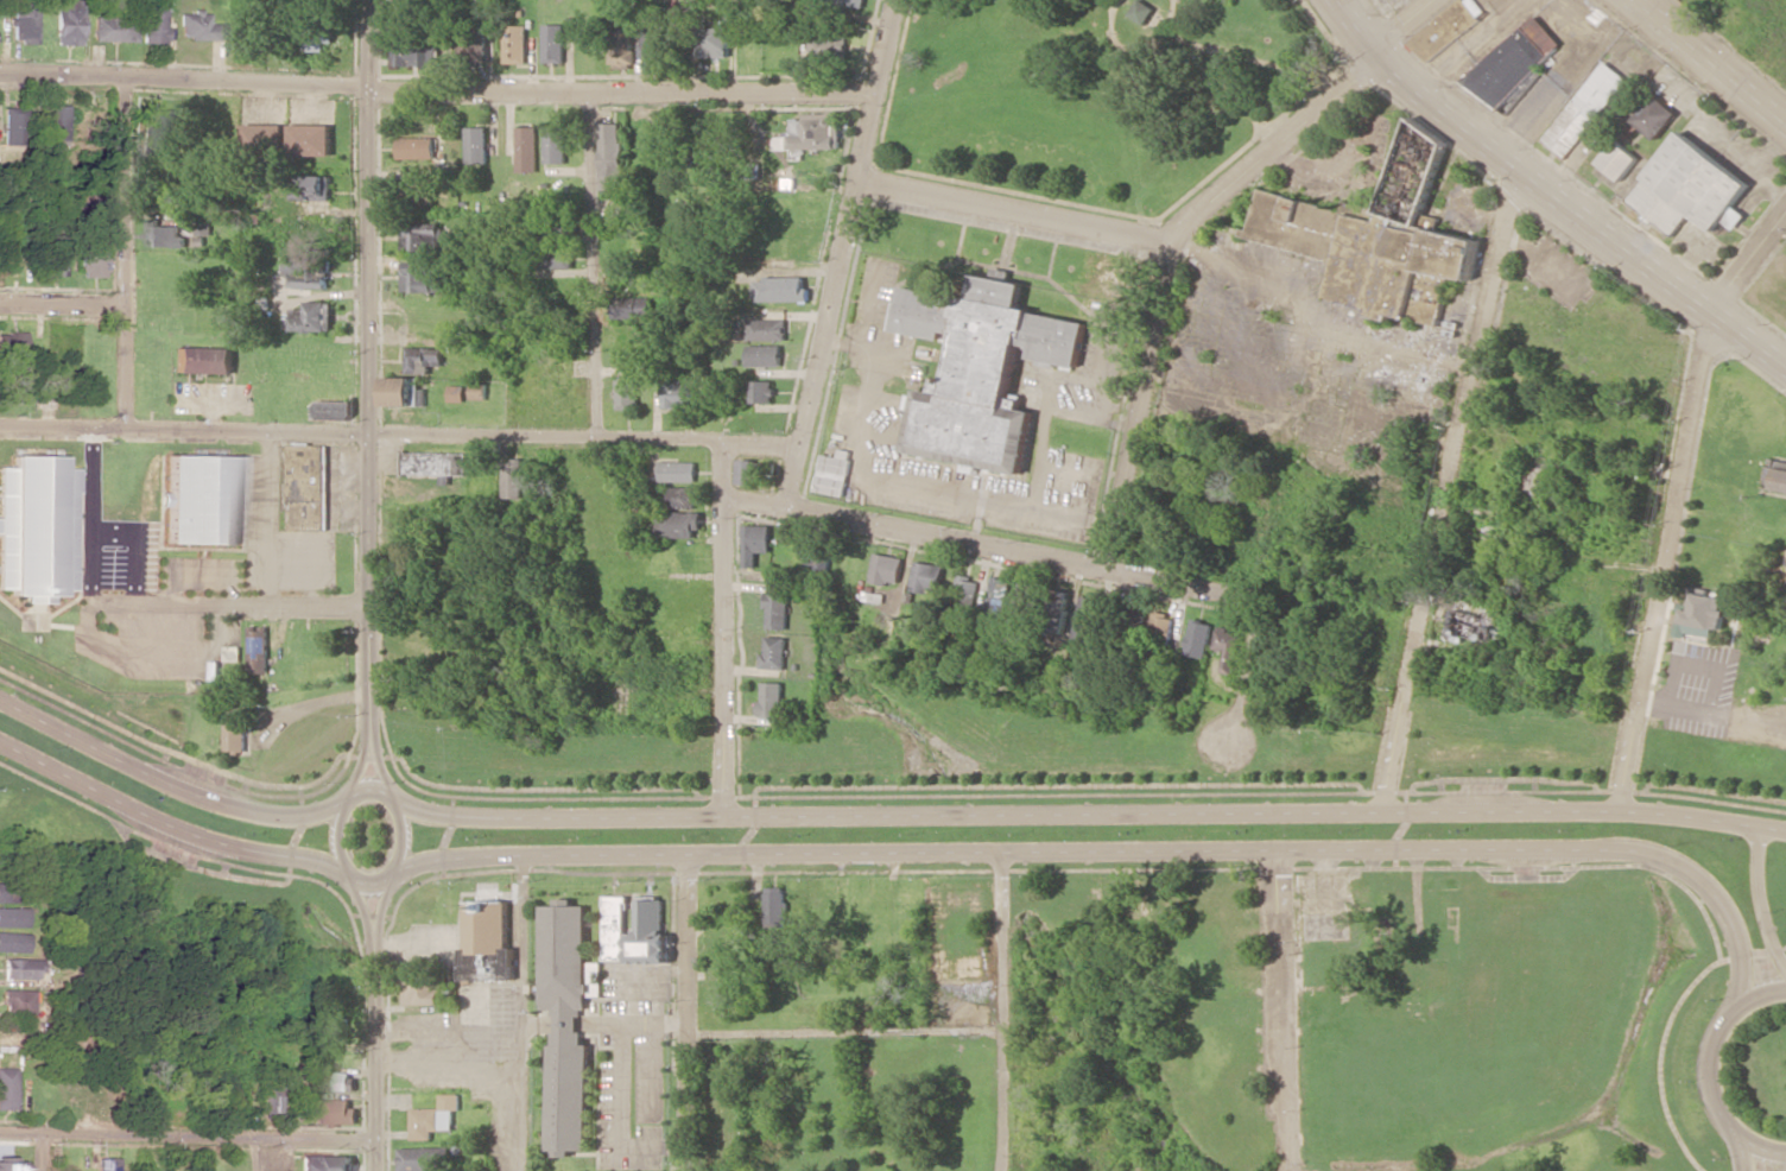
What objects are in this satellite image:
building: (848, 1)
building: (1142, 11)
building: (66, 21)
building: (23, 24)
building: (153, 25)
building: (199, 26)
building: (1446, 29)
building: (114, 30)
building: (311, 38)
building: (712, 42)
building: (552, 43)
building: (651, 43)
building: (514, 44)
building: (826, 45)
building: (622, 48)
building: (410, 51)
building: (1514, 62)
road: (1710, 62)
park: (1098, 89)
road: (436, 90)
building: (1585, 109)
building: (1655, 116)
building: (52, 124)
road: (1305, 124)
building: (11, 126)
building: (152, 132)
building: (811, 132)
building: (262, 138)
building: (310, 139)
building: (475, 145)
building: (555, 145)
building: (414, 148)
building: (525, 150)
building: (609, 156)
building: (1619, 160)
building: (312, 188)
building: (1690, 188)
road: (1552, 192)
building: (419, 194)
road: (1015, 210)
building: (308, 230)
building: (164, 235)
building: (423, 239)
building: (1377, 239)
road: (844, 253)
road: (120, 254)
building: (90, 257)
building: (552, 258)
road: (1749, 262)
road: (595, 267)
building: (304, 271)
building: (419, 280)
building: (781, 290)
road: (59, 302)
building: (632, 308)
building: (311, 317)
building: (766, 329)
building: (11, 346)
building: (764, 355)
road: (370, 357)
building: (422, 359)
building: (203, 360)
building: (981, 371)
building: (477, 391)
building: (403, 392)
building: (627, 392)
building: (761, 392)
building: (455, 393)
building: (679, 394)
road: (1140, 406)
building: (334, 410)
road: (400, 435)
building: (435, 463)
building: (677, 471)
building: (747, 471)
building: (835, 473)
building: (1775, 476)
building: (513, 479)
building: (308, 486)
road: (1450, 490)
building: (680, 498)
building: (202, 500)
building: (678, 524)
building: (37, 527)
building: (755, 543)
building: (818, 553)
road: (1059, 559)
road: (1666, 561)
building: (887, 569)
building: (927, 577)
building: (965, 594)
building: (997, 597)
building: (1026, 601)
building: (1057, 601)
road: (217, 608)
building: (777, 610)
building: (1706, 610)
building: (1088, 619)
building: (1465, 626)
building: (1161, 627)
road: (723, 629)
building: (1197, 638)
building: (256, 648)
building: (1227, 648)
building: (230, 653)
building: (773, 653)
building: (769, 700)
building: (233, 728)
road: (376, 755)
road: (363, 758)
road: (170, 784)
road: (872, 787)
road: (350, 796)
road: (1085, 815)
road: (167, 827)
road: (1119, 852)
building: (13, 892)
road: (1761, 898)
building: (775, 906)
road: (363, 913)
road: (380, 916)
building: (13, 917)
building: (614, 928)
building: (648, 932)
building: (488, 942)
building: (13, 943)
building: (19, 969)
building: (422, 990)
building: (15, 1002)
road: (1280, 1009)
road: (689, 1012)
road: (1002, 1012)
road: (525, 1013)
building: (568, 1023)
building: (331, 1028)
road: (847, 1032)
road: (1712, 1046)
road: (373, 1062)
building: (335, 1081)
building: (7, 1088)
building: (272, 1100)
building: (334, 1113)
building: (432, 1118)
road: (186, 1135)
road: (1761, 1148)
road: (42, 1152)
road: (1743, 1153)
building: (420, 1159)
building: (324, 1163)
building: (106, 1164)
building: (9, 1165)
road: (1785, 1170)

